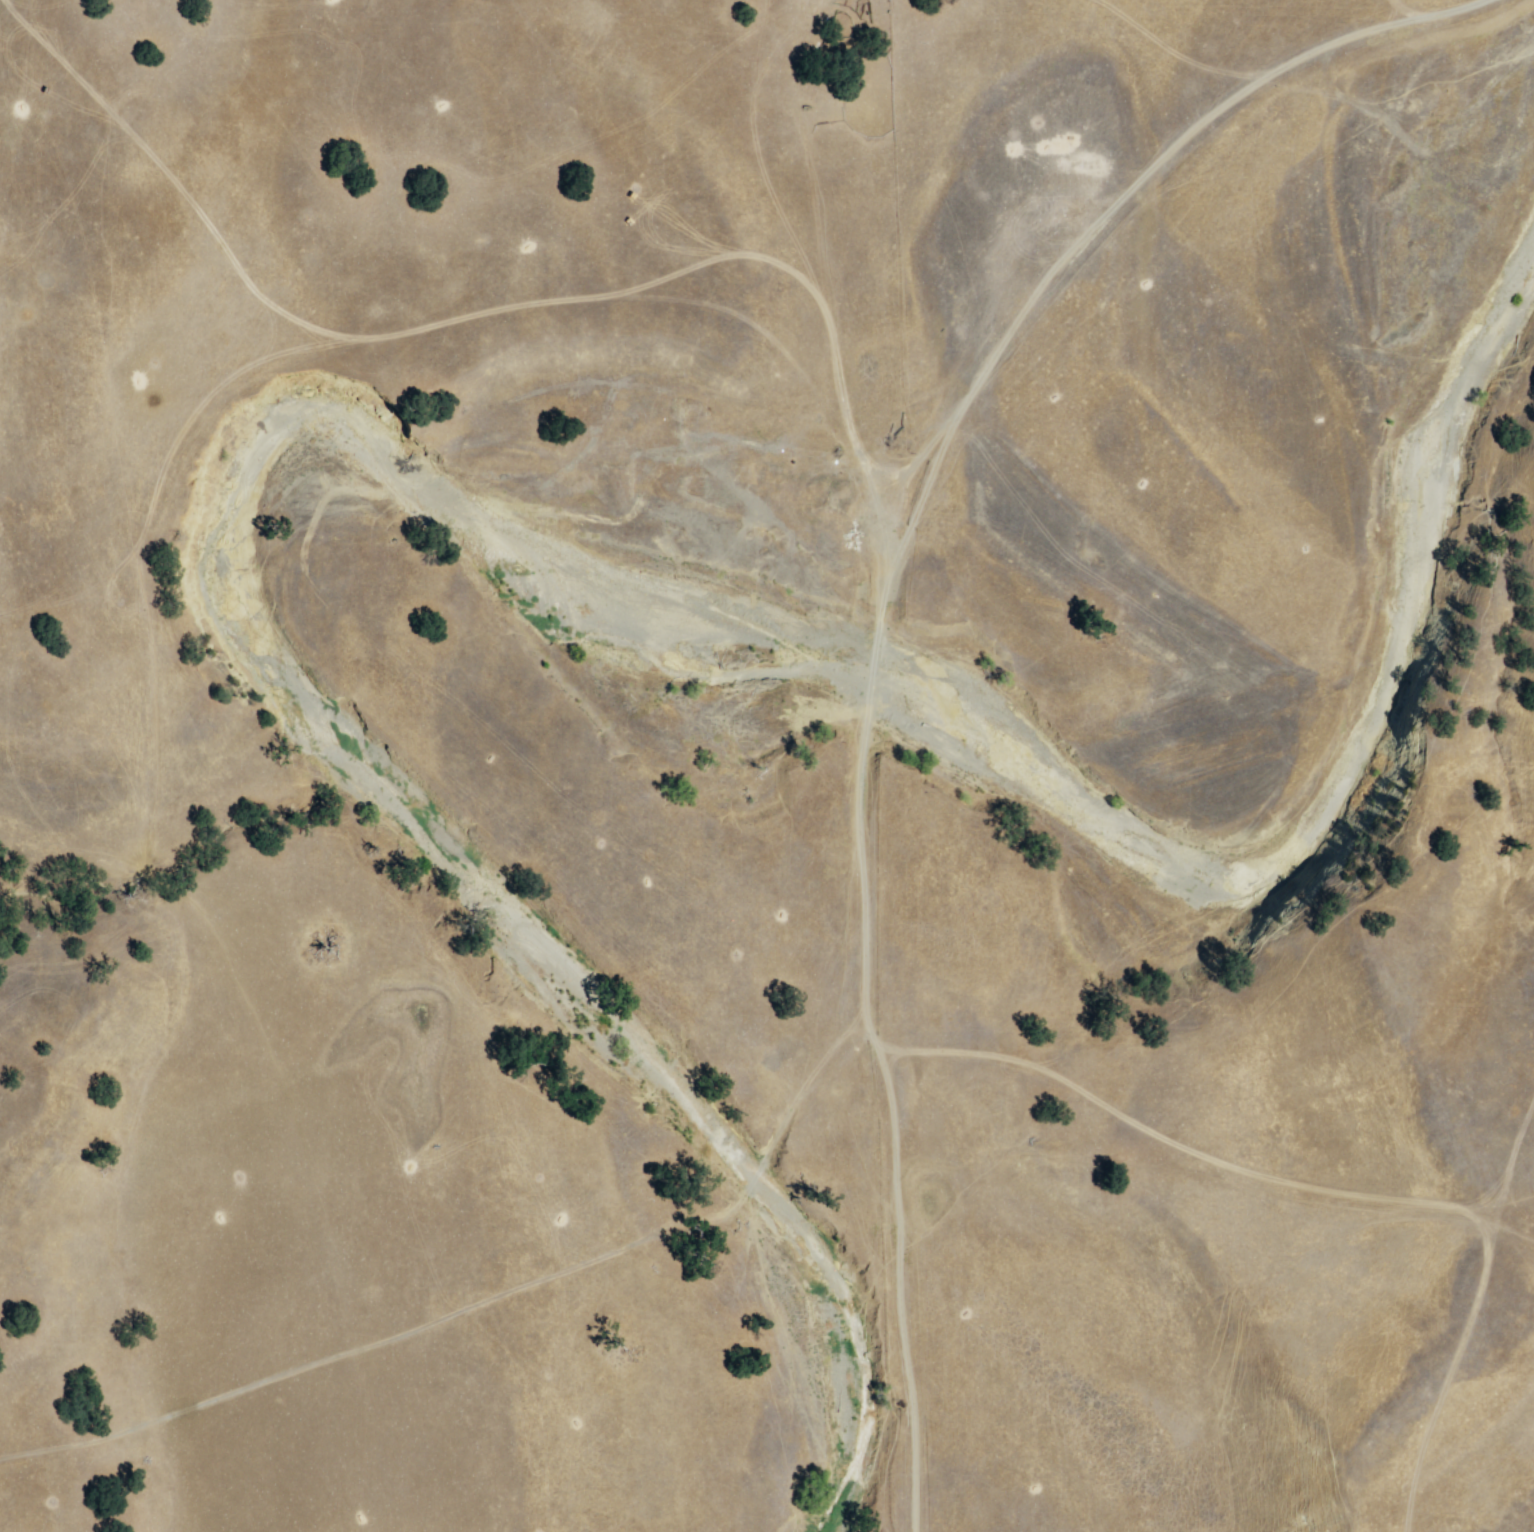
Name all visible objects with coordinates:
road: (885, 620)

